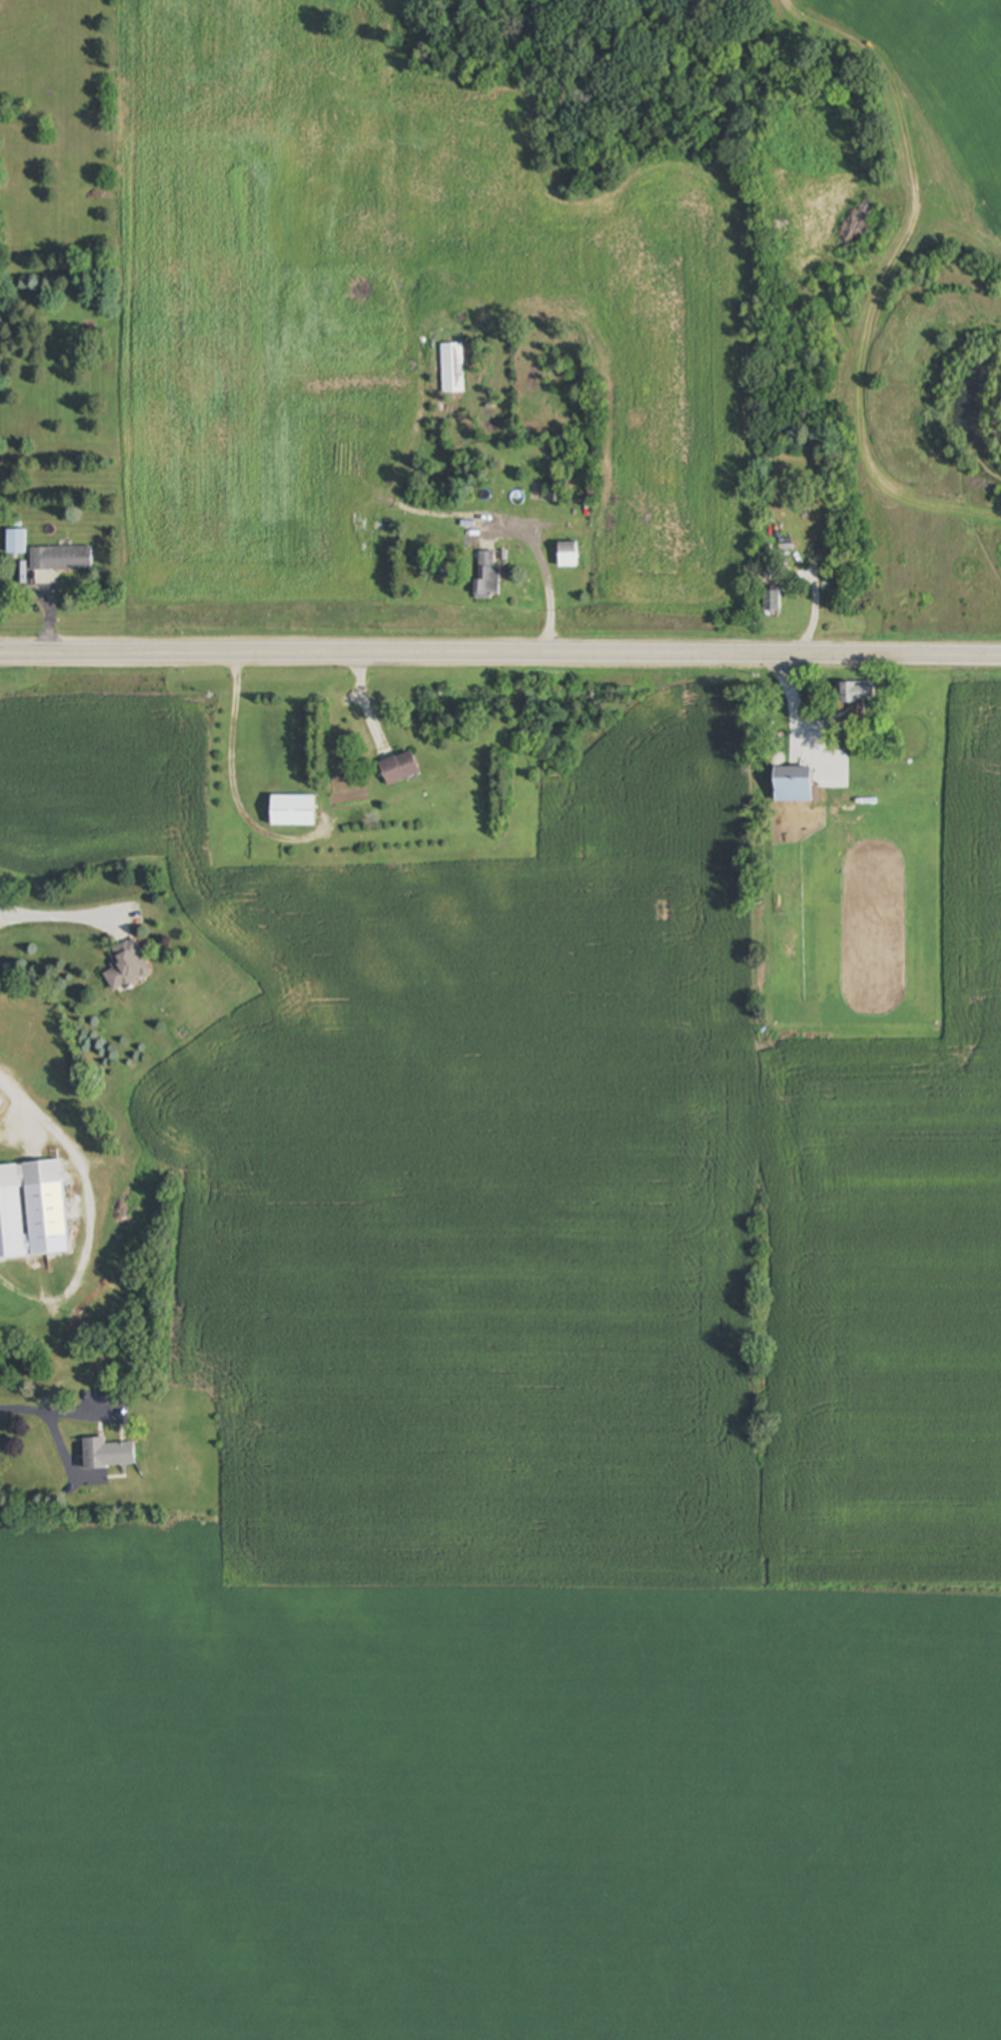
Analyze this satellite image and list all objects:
building: (451, 370)
building: (553, 494)
building: (16, 542)
building: (568, 555)
building: (61, 559)
building: (488, 575)
building: (772, 602)
road: (546, 604)
road: (500, 658)
building: (858, 692)
road: (230, 767)
building: (400, 768)
building: (795, 785)
building: (293, 812)
road: (59, 917)
building: (128, 967)
building: (0, 1105)
road: (82, 1172)
building: (33, 1212)
road: (52, 1412)
building: (98, 1453)
building: (155, 1456)

